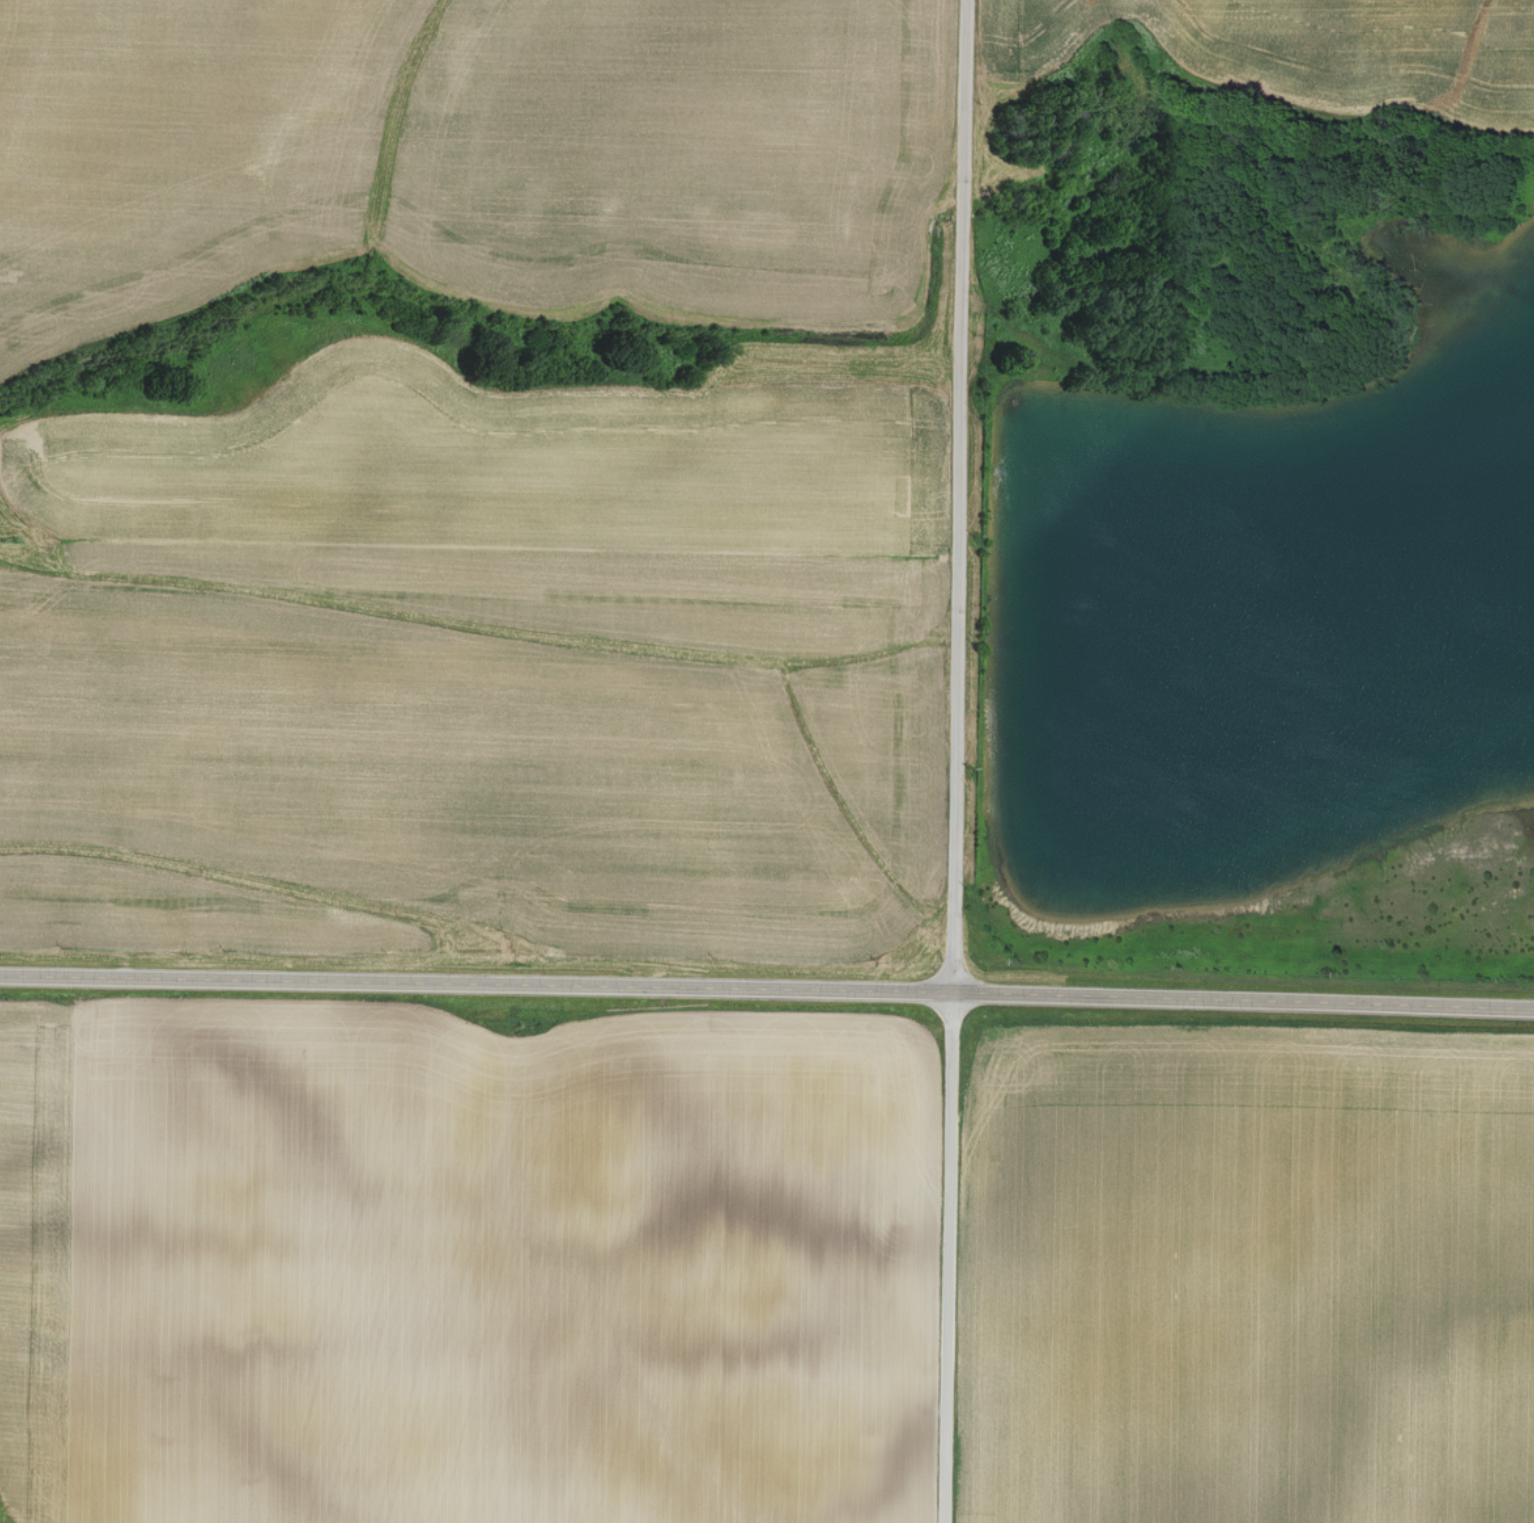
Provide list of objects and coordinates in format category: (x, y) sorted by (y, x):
road: (955, 761)
road: (767, 990)

